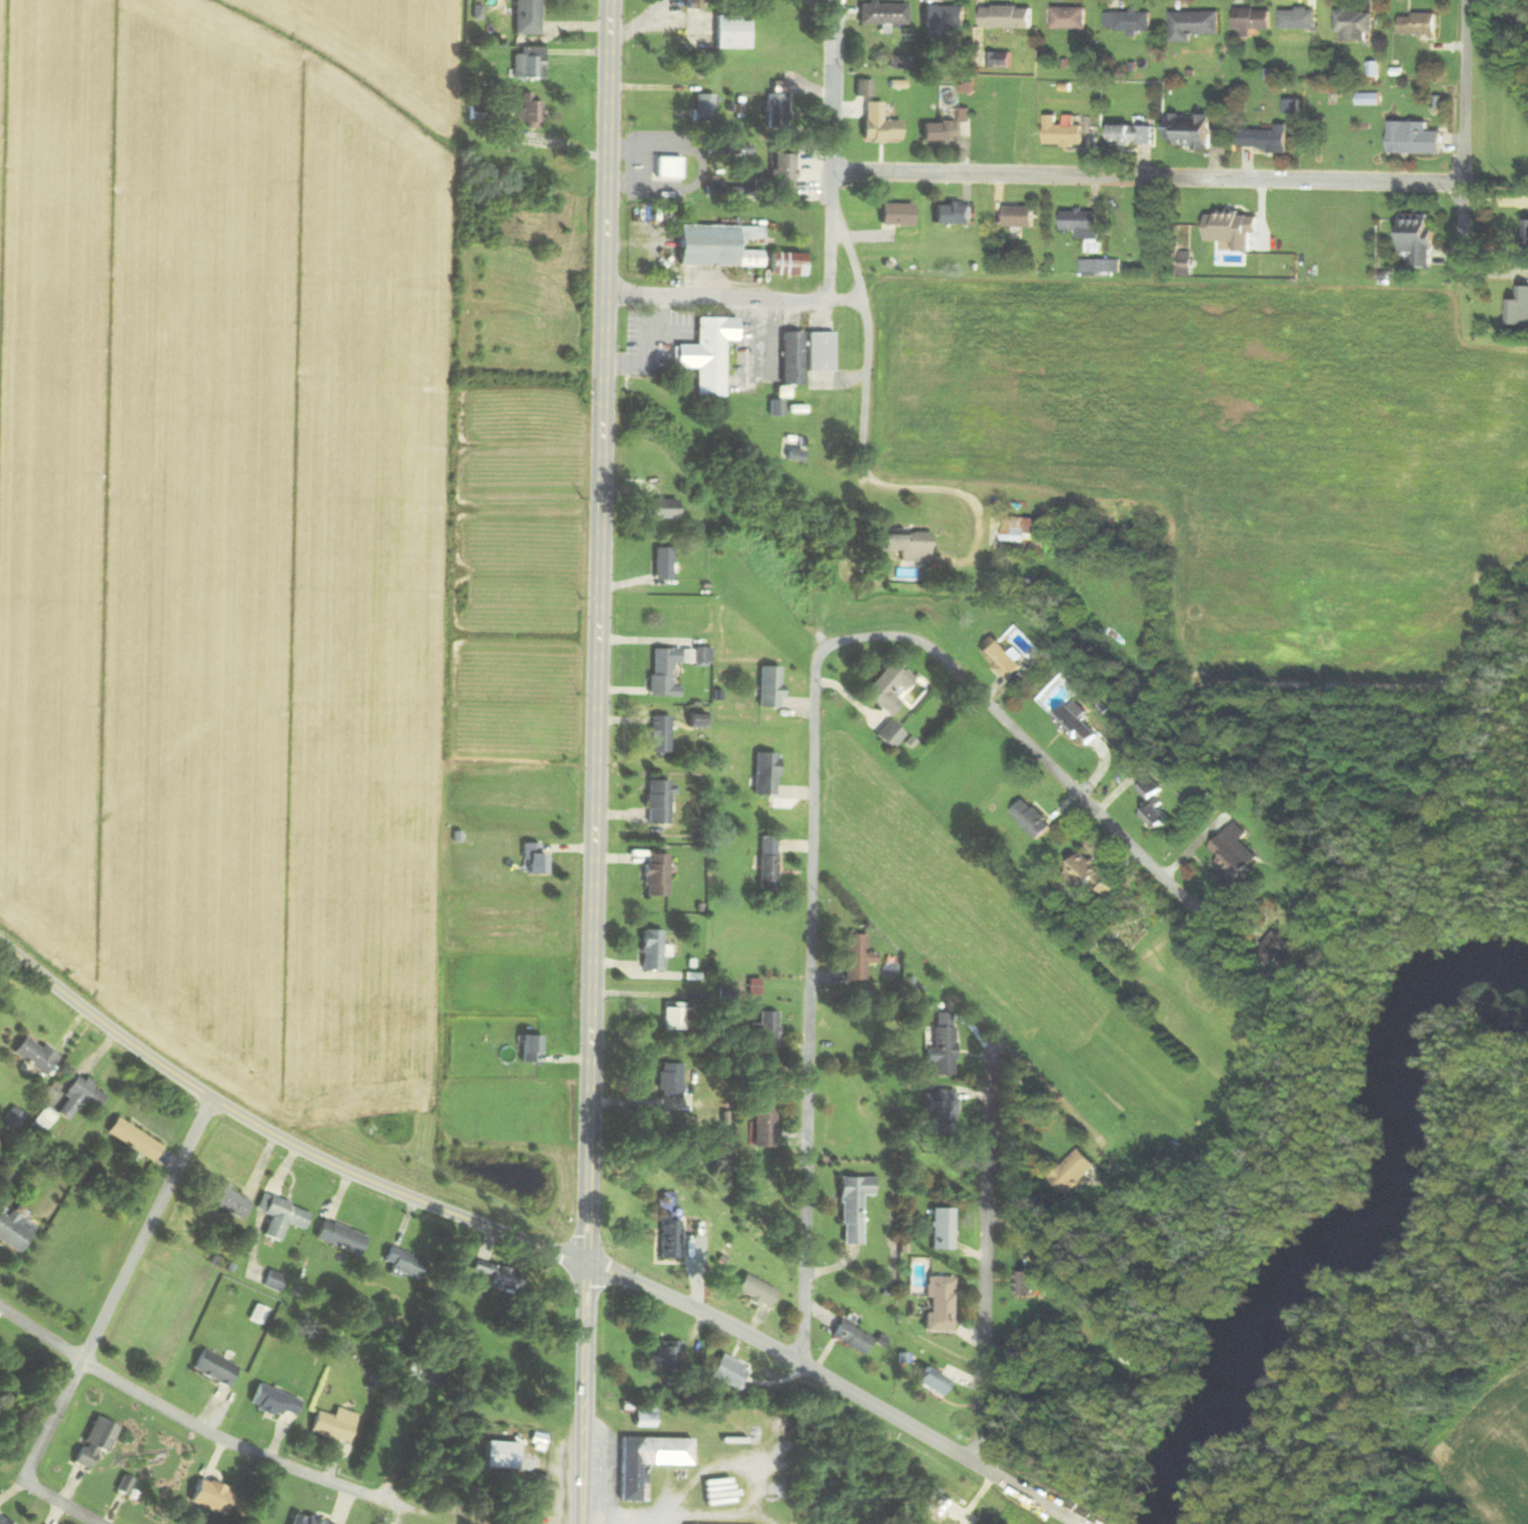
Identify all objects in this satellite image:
building: (694, 4)
building: (884, 13)
building: (528, 17)
building: (1010, 17)
building: (1071, 18)
building: (1300, 18)
building: (1255, 19)
building: (944, 20)
building: (1130, 21)
building: (1195, 25)
building: (1357, 25)
building: (1420, 25)
building: (733, 31)
building: (529, 62)
building: (899, 65)
building: (865, 88)
building: (1368, 100)
building: (703, 107)
building: (777, 108)
building: (530, 111)
building: (477, 113)
building: (965, 115)
building: (883, 131)
building: (940, 131)
building: (1192, 131)
building: (1065, 132)
building: (1133, 135)
building: (1416, 138)
building: (1267, 139)
road: (553, 146)
building: (720, 147)
road: (832, 155)
road: (1466, 165)
building: (669, 168)
road: (645, 170)
building: (784, 172)
road: (1148, 176)
building: (729, 191)
building: (955, 213)
building: (898, 214)
building: (1021, 216)
building: (1084, 223)
building: (1232, 229)
building: (1420, 237)
building: (720, 245)
road: (829, 254)
building: (788, 263)
building: (1104, 266)
road: (734, 298)
building: (1519, 308)
building: (821, 351)
building: (709, 354)
building: (793, 357)
road: (863, 395)
building: (777, 408)
building: (798, 457)
building: (662, 509)
building: (1028, 535)
building: (908, 544)
building: (664, 564)
building: (703, 657)
building: (1003, 659)
building: (664, 672)
building: (771, 686)
building: (889, 688)
building: (1079, 724)
building: (661, 734)
building: (891, 735)
road: (812, 749)
road: (594, 761)
building: (767, 773)
building: (660, 802)
building: (1156, 810)
building: (1034, 819)
building: (1236, 853)
building: (535, 859)
building: (769, 863)
building: (657, 875)
building: (1091, 875)
building: (1276, 948)
building: (653, 951)
building: (858, 958)
building: (674, 1018)
building: (766, 1032)
building: (943, 1045)
building: (531, 1050)
building: (35, 1056)
building: (671, 1080)
building: (81, 1098)
building: (942, 1109)
building: (13, 1119)
building: (42, 1122)
building: (765, 1122)
road: (276, 1135)
building: (135, 1139)
building: (1077, 1172)
building: (224, 1199)
building: (853, 1208)
building: (282, 1217)
building: (943, 1229)
building: (13, 1230)
building: (670, 1237)
building: (341, 1238)
building: (405, 1264)
building: (497, 1278)
building: (1031, 1284)
road: (975, 1288)
road: (118, 1291)
building: (757, 1292)
building: (940, 1304)
building: (852, 1338)
building: (669, 1356)
building: (216, 1369)
building: (730, 1372)
building: (933, 1382)
road: (839, 1387)
building: (276, 1403)
building: (645, 1419)
building: (734, 1424)
building: (335, 1426)
road: (209, 1433)
building: (97, 1442)
building: (539, 1443)
building: (501, 1456)
building: (650, 1462)
building: (539, 1493)
building: (211, 1497)
building: (940, 1503)
road: (63, 1505)
building: (4, 1521)

